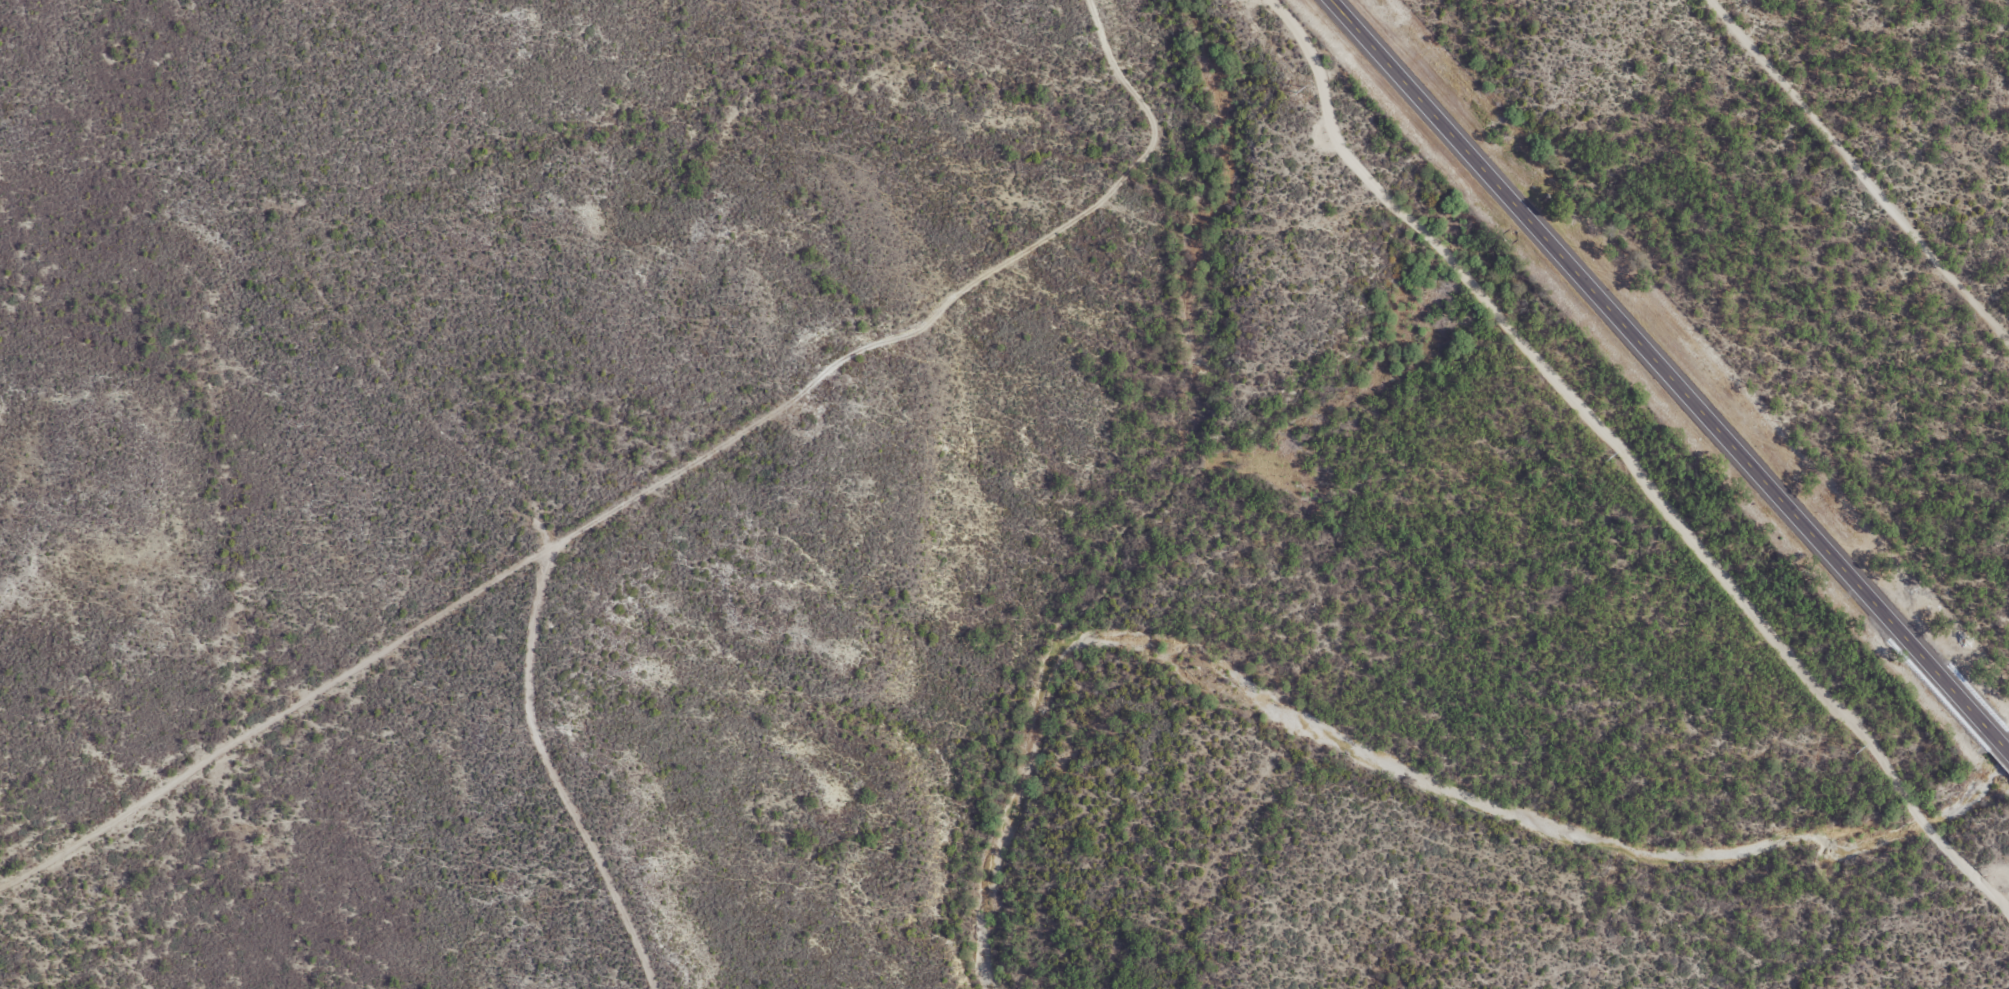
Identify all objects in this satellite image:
power tower: (1306, 90)
road: (1667, 378)
road: (641, 424)
power tower: (1614, 457)
power tower: (1861, 750)

